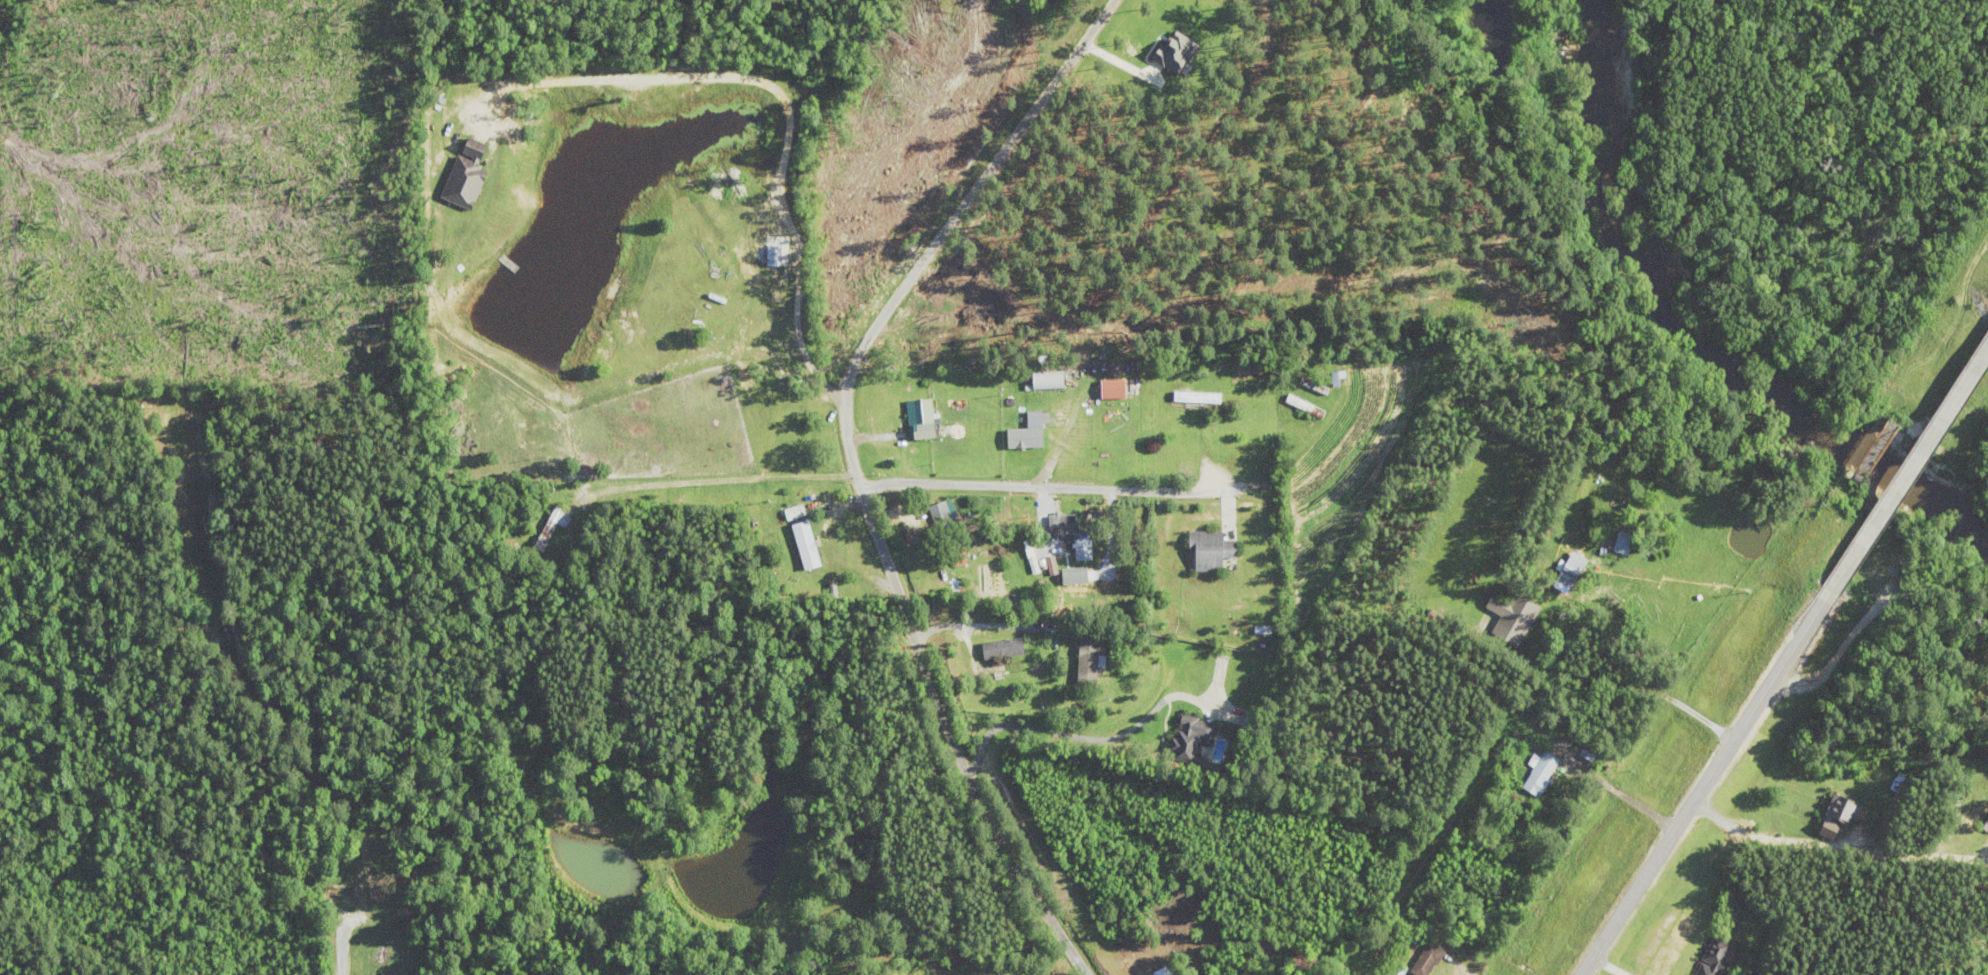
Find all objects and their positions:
river: (1607, 27)
building: (468, 179)
building: (777, 248)
river: (1705, 349)
building: (1051, 379)
building: (1340, 380)
building: (1313, 385)
building: (1198, 397)
building: (1307, 407)
building: (923, 419)
building: (1027, 438)
road: (856, 471)
road: (1906, 477)
road: (1049, 486)
building: (1064, 525)
building: (550, 528)
building: (1625, 543)
building: (808, 545)
building: (1215, 548)
building: (1032, 556)
building: (1574, 570)
building: (1508, 616)
building: (1006, 648)
building: (1102, 660)
building: (1252, 722)
building: (1204, 735)
building: (1543, 773)
road: (1702, 788)
building: (1844, 808)
building: (1986, 826)
building: (1718, 958)
building: (1429, 959)
building: (1166, 971)

